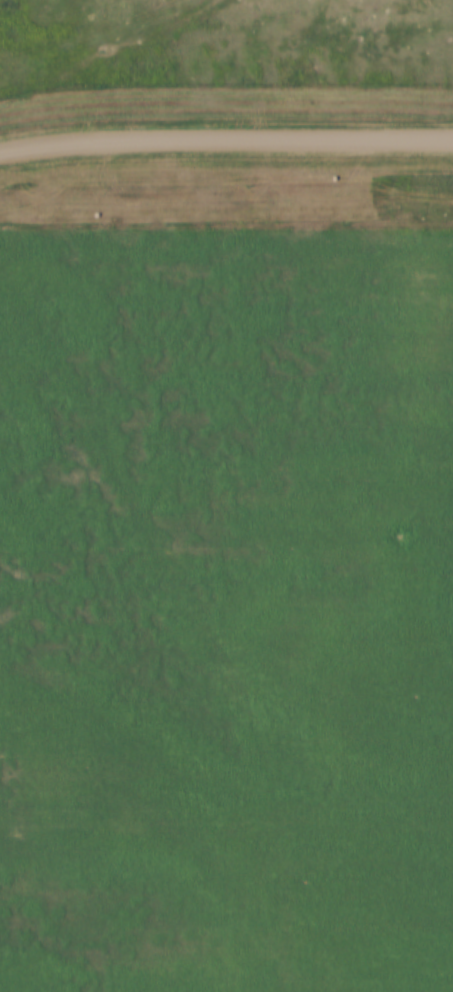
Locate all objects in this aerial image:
road: (96, 55)
road: (226, 141)

